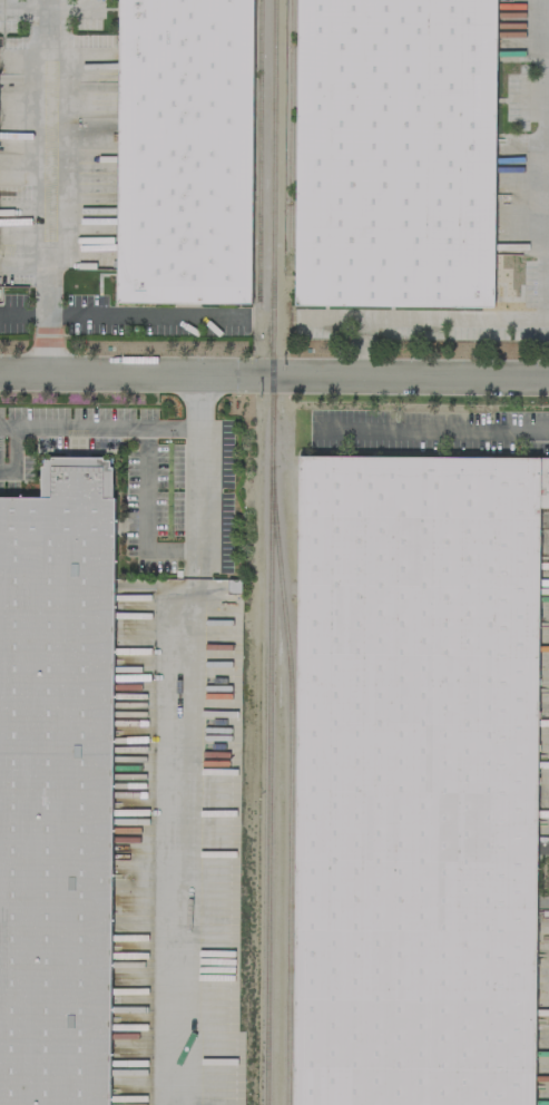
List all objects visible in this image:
road: (24, 2)
railway: (288, 127)
building: (185, 145)
building: (395, 146)
railway: (257, 149)
road: (49, 158)
road: (143, 316)
road: (49, 320)
road: (274, 377)
road: (96, 423)
road: (435, 430)
road: (11, 451)
road: (140, 510)
railway: (267, 551)
road: (188, 740)
building: (415, 779)
building: (57, 782)
railway: (286, 794)

